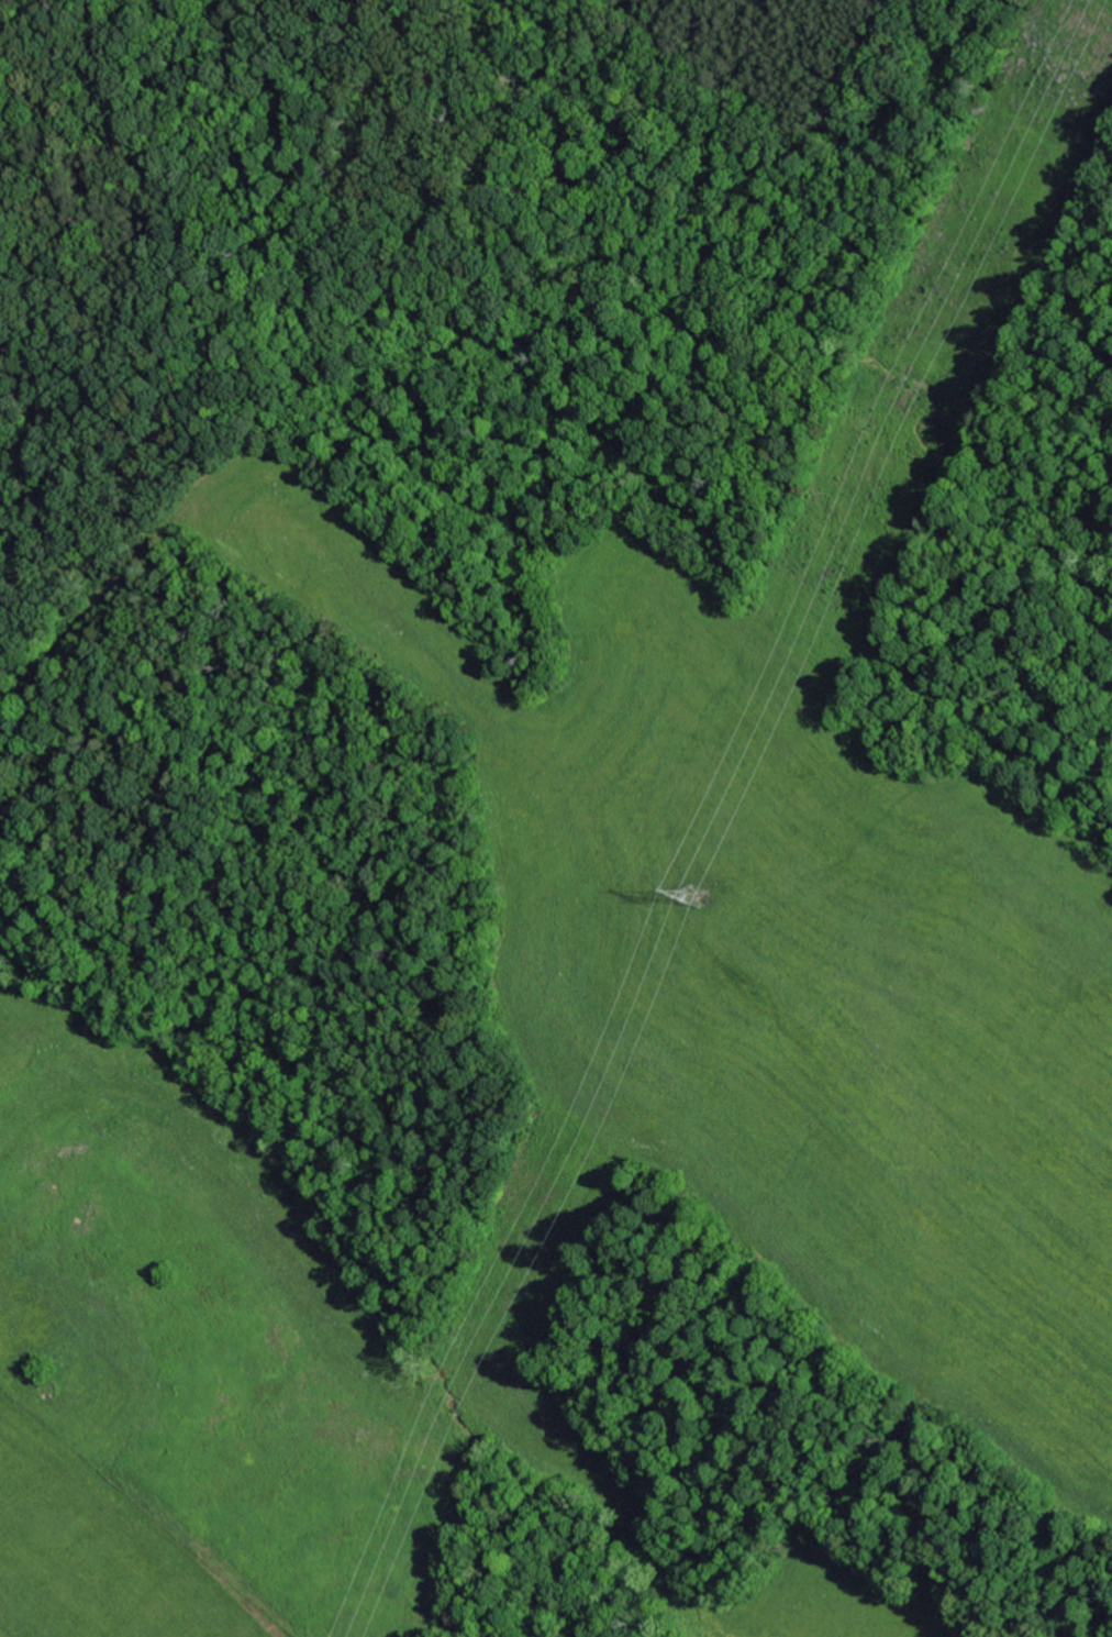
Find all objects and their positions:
power tower: (696, 896)

